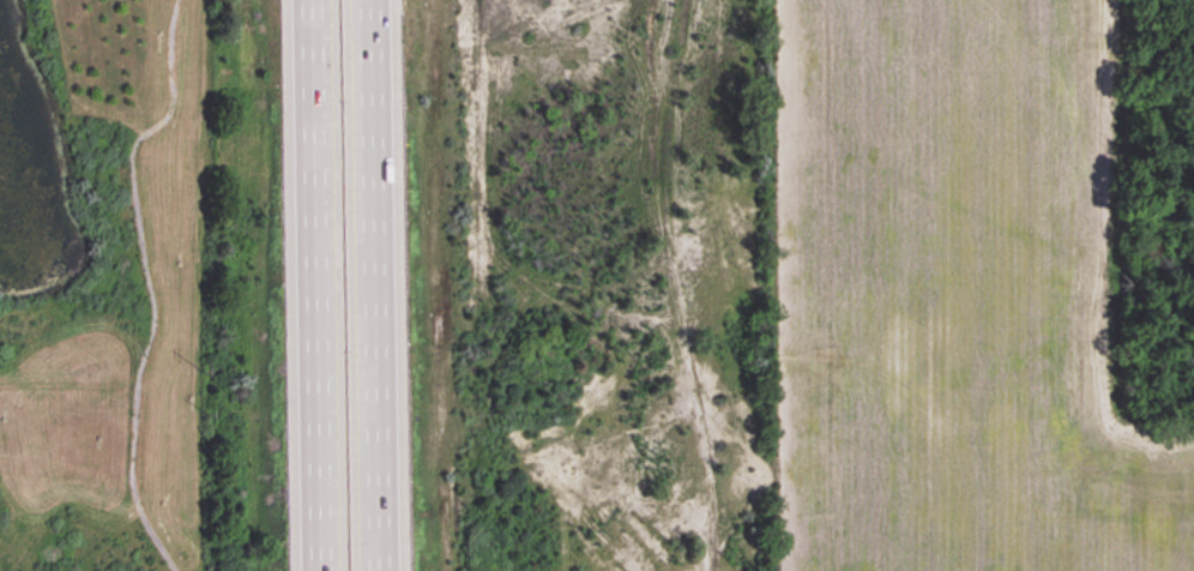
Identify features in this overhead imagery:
road: (312, 285)
road: (378, 285)

